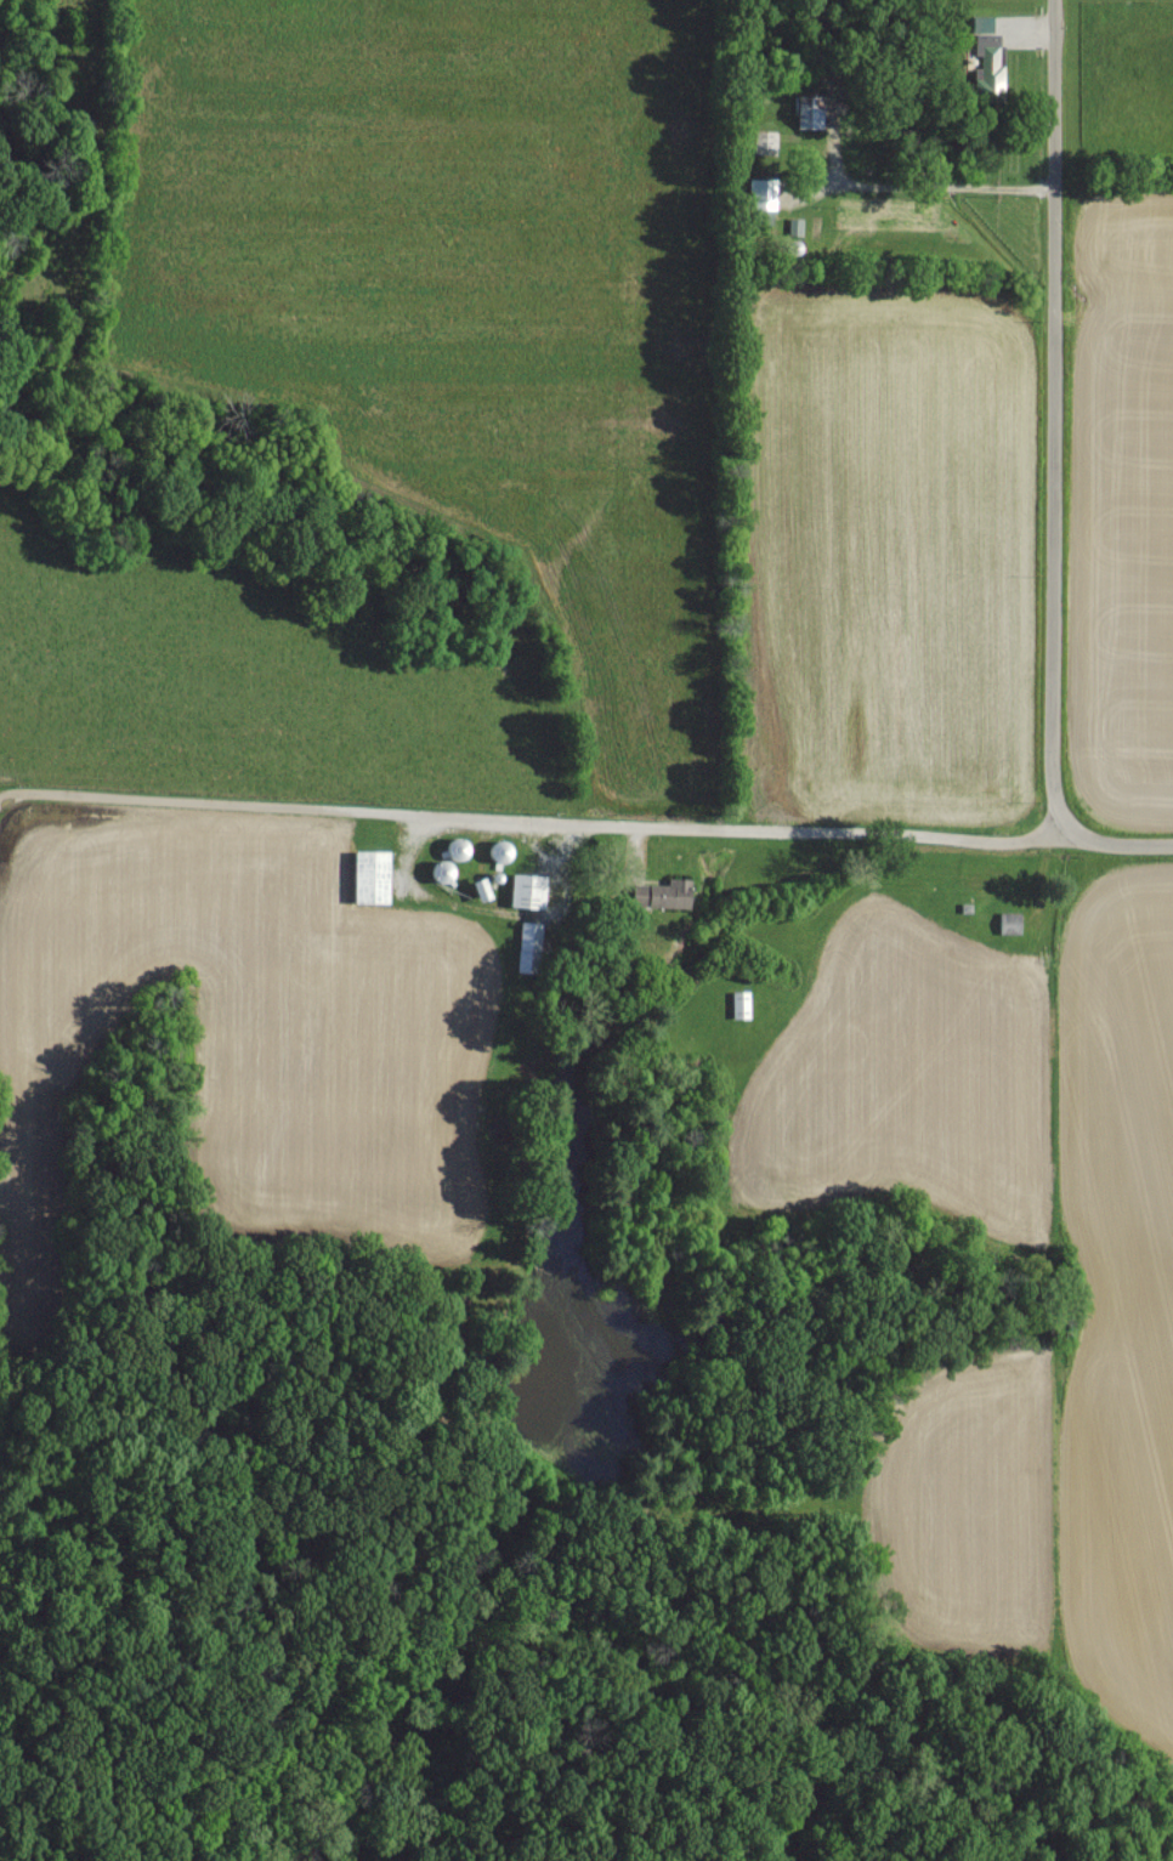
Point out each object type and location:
building: (982, 22)
building: (988, 61)
building: (810, 109)
road: (926, 188)
building: (761, 192)
road: (1059, 415)
road: (540, 840)
building: (372, 875)
building: (481, 889)
building: (527, 890)
building: (663, 892)
building: (1009, 921)
building: (529, 946)

